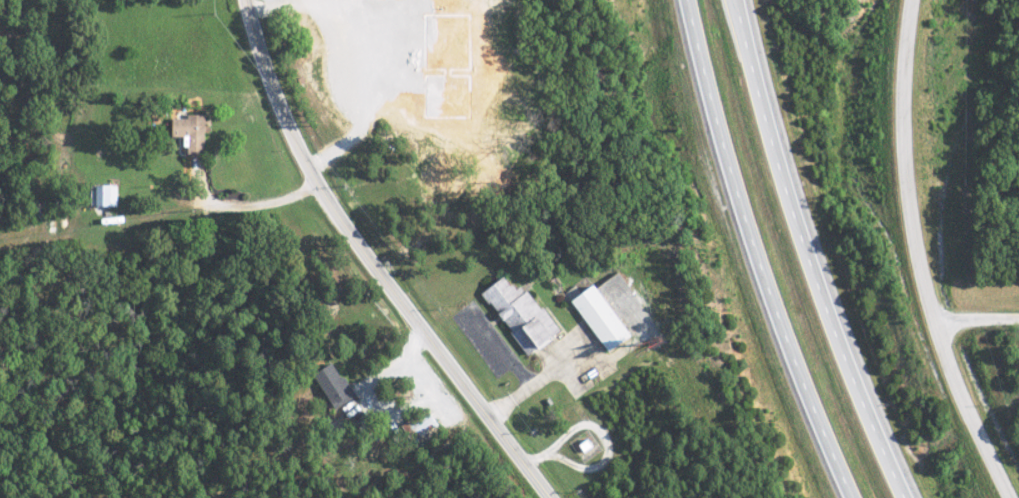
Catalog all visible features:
building: (185, 131)
building: (100, 194)
road: (754, 253)
road: (807, 253)
road: (908, 258)
road: (372, 263)
building: (514, 313)
building: (594, 316)
road: (973, 323)
building: (327, 385)
building: (414, 424)
building: (581, 445)

